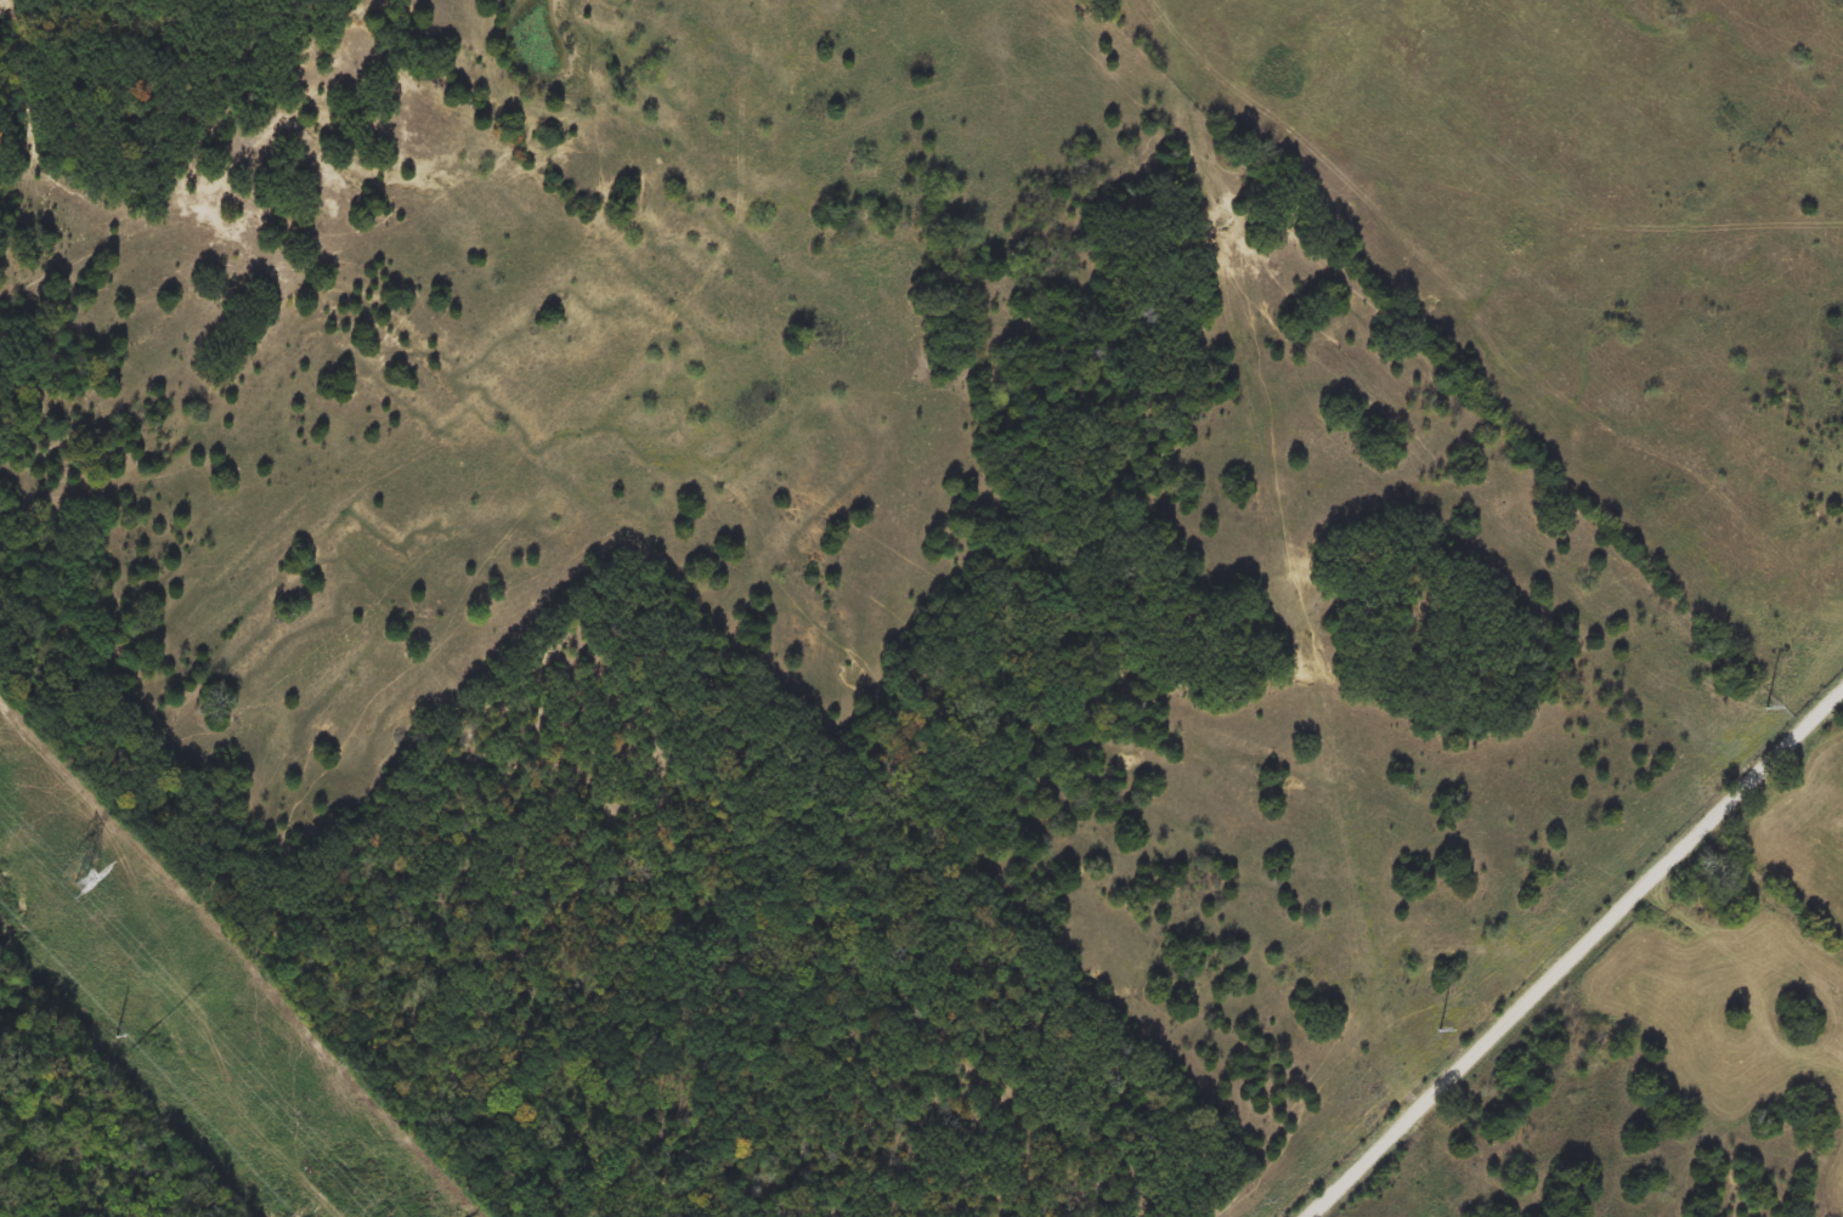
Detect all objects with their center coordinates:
power tower: (83, 877)
road: (1571, 950)
road: (1714, 1009)

